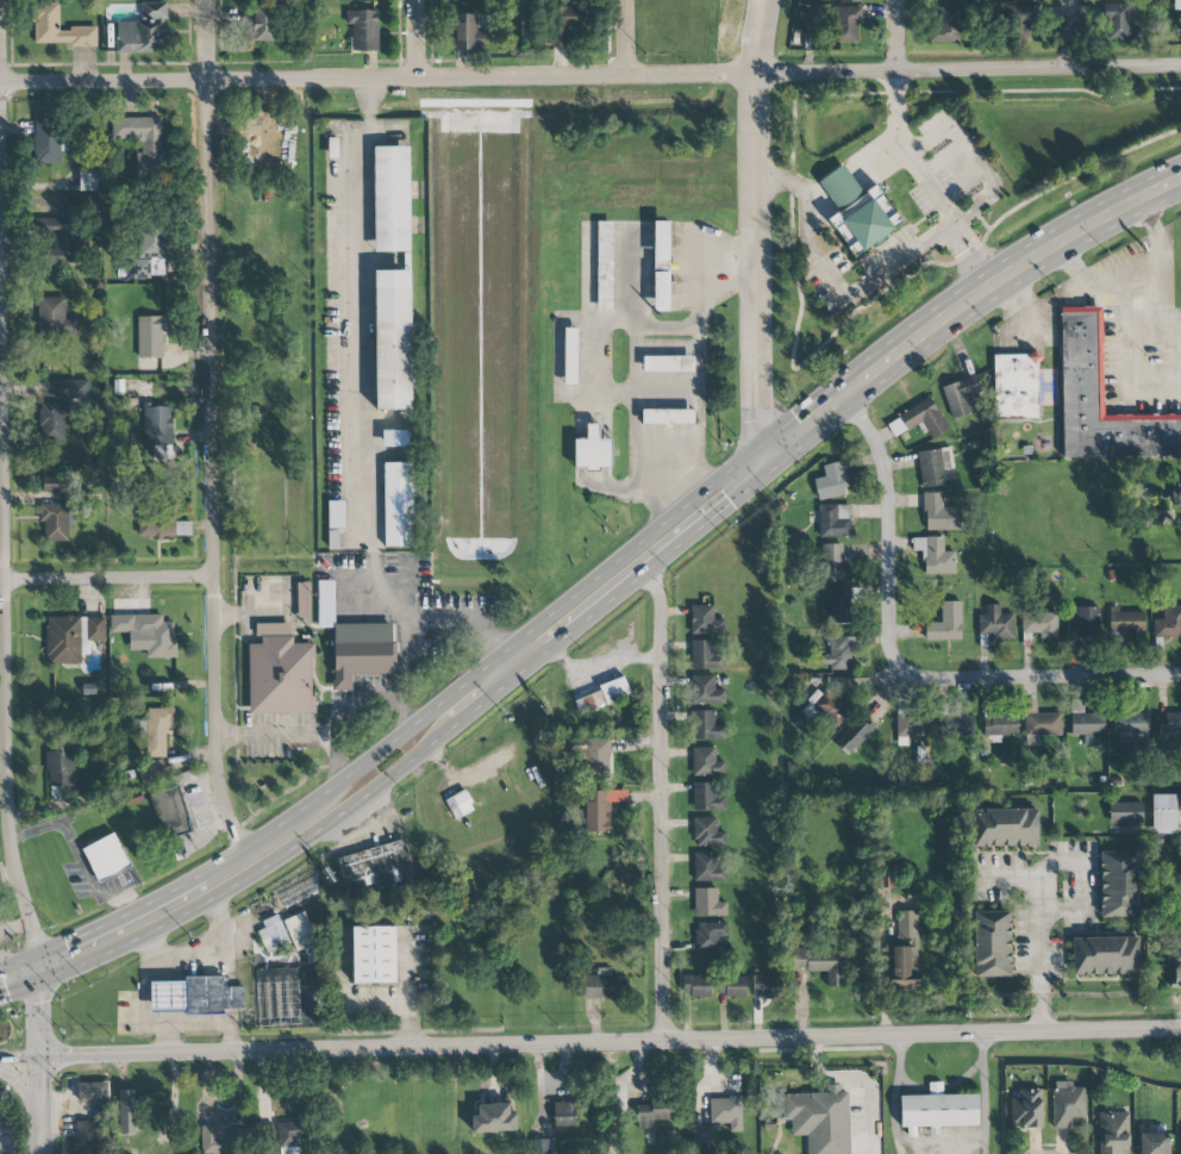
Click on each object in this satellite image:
building: (850, 0)
building: (1023, 0)
building: (1021, 17)
building: (567, 20)
building: (261, 21)
building: (1116, 21)
building: (846, 23)
building: (944, 24)
building: (58, 29)
building: (363, 30)
building: (143, 31)
building: (467, 32)
road: (1070, 33)
road: (893, 35)
road: (623, 37)
road: (418, 38)
road: (1156, 64)
road: (565, 75)
building: (49, 143)
building: (143, 144)
road: (873, 149)
road: (835, 175)
building: (88, 181)
road: (925, 181)
road: (812, 192)
building: (393, 199)
building: (74, 206)
building: (857, 212)
road: (756, 230)
building: (60, 241)
building: (149, 254)
building: (661, 266)
building: (607, 267)
road: (1157, 269)
road: (835, 285)
road: (1100, 286)
road: (961, 305)
road: (357, 316)
building: (54, 318)
road: (671, 326)
building: (151, 336)
building: (393, 339)
road: (598, 355)
building: (574, 356)
road: (1126, 358)
road: (701, 361)
building: (1081, 362)
building: (673, 363)
road: (635, 382)
building: (1016, 387)
building: (71, 388)
road: (668, 391)
building: (960, 395)
building: (671, 417)
building: (919, 419)
building: (52, 420)
road: (217, 426)
building: (158, 430)
building: (396, 438)
building: (593, 450)
building: (936, 467)
road: (4, 479)
building: (831, 481)
building: (51, 484)
building: (1176, 494)
building: (399, 505)
building: (939, 513)
building: (336, 514)
building: (1154, 517)
building: (835, 520)
building: (55, 522)
building: (161, 525)
building: (335, 538)
building: (935, 555)
building: (833, 563)
road: (641, 574)
road: (108, 576)
building: (305, 601)
building: (325, 604)
building: (837, 606)
road: (404, 618)
building: (705, 620)
road: (460, 623)
building: (945, 623)
building: (995, 623)
building: (1083, 623)
building: (1125, 623)
building: (1168, 623)
building: (1039, 624)
building: (148, 632)
building: (71, 637)
building: (361, 651)
building: (839, 654)
building: (705, 656)
road: (899, 666)
road: (502, 668)
building: (280, 672)
building: (706, 691)
building: (601, 697)
road: (401, 705)
building: (826, 707)
road: (356, 710)
building: (1085, 721)
building: (1041, 722)
building: (1169, 723)
road: (412, 724)
building: (707, 726)
building: (913, 726)
building: (954, 726)
building: (1131, 726)
building: (1000, 728)
building: (156, 730)
building: (852, 736)
road: (270, 738)
road: (336, 753)
building: (596, 757)
building: (706, 762)
building: (60, 771)
building: (151, 771)
building: (707, 798)
road: (663, 803)
building: (1179, 803)
building: (460, 804)
road: (48, 809)
building: (169, 811)
building: (595, 812)
building: (1125, 813)
building: (1163, 813)
building: (1005, 828)
building: (707, 832)
road: (289, 849)
road: (76, 852)
building: (108, 859)
building: (708, 867)
building: (1118, 884)
road: (1041, 890)
road: (123, 902)
building: (708, 903)
road: (1077, 909)
building: (299, 931)
building: (273, 934)
building: (708, 935)
building: (992, 943)
building: (906, 954)
building: (375, 955)
building: (1105, 956)
road: (20, 961)
building: (819, 962)
road: (43, 967)
building: (1177, 977)
building: (605, 985)
building: (696, 986)
building: (732, 986)
building: (766, 986)
road: (21, 987)
building: (194, 997)
building: (276, 997)
road: (40, 1017)
road: (610, 1041)
road: (20, 1056)
road: (846, 1077)
building: (92, 1092)
road: (40, 1105)
building: (1068, 1105)
building: (1027, 1108)
building: (938, 1110)
building: (126, 1112)
building: (726, 1112)
building: (652, 1114)
building: (563, 1115)
building: (493, 1118)
building: (819, 1118)
building: (1113, 1133)
building: (702, 1135)
building: (287, 1136)
building: (87, 1137)
building: (220, 1140)
building: (1154, 1143)
building: (539, 1147)
road: (941, 1153)

